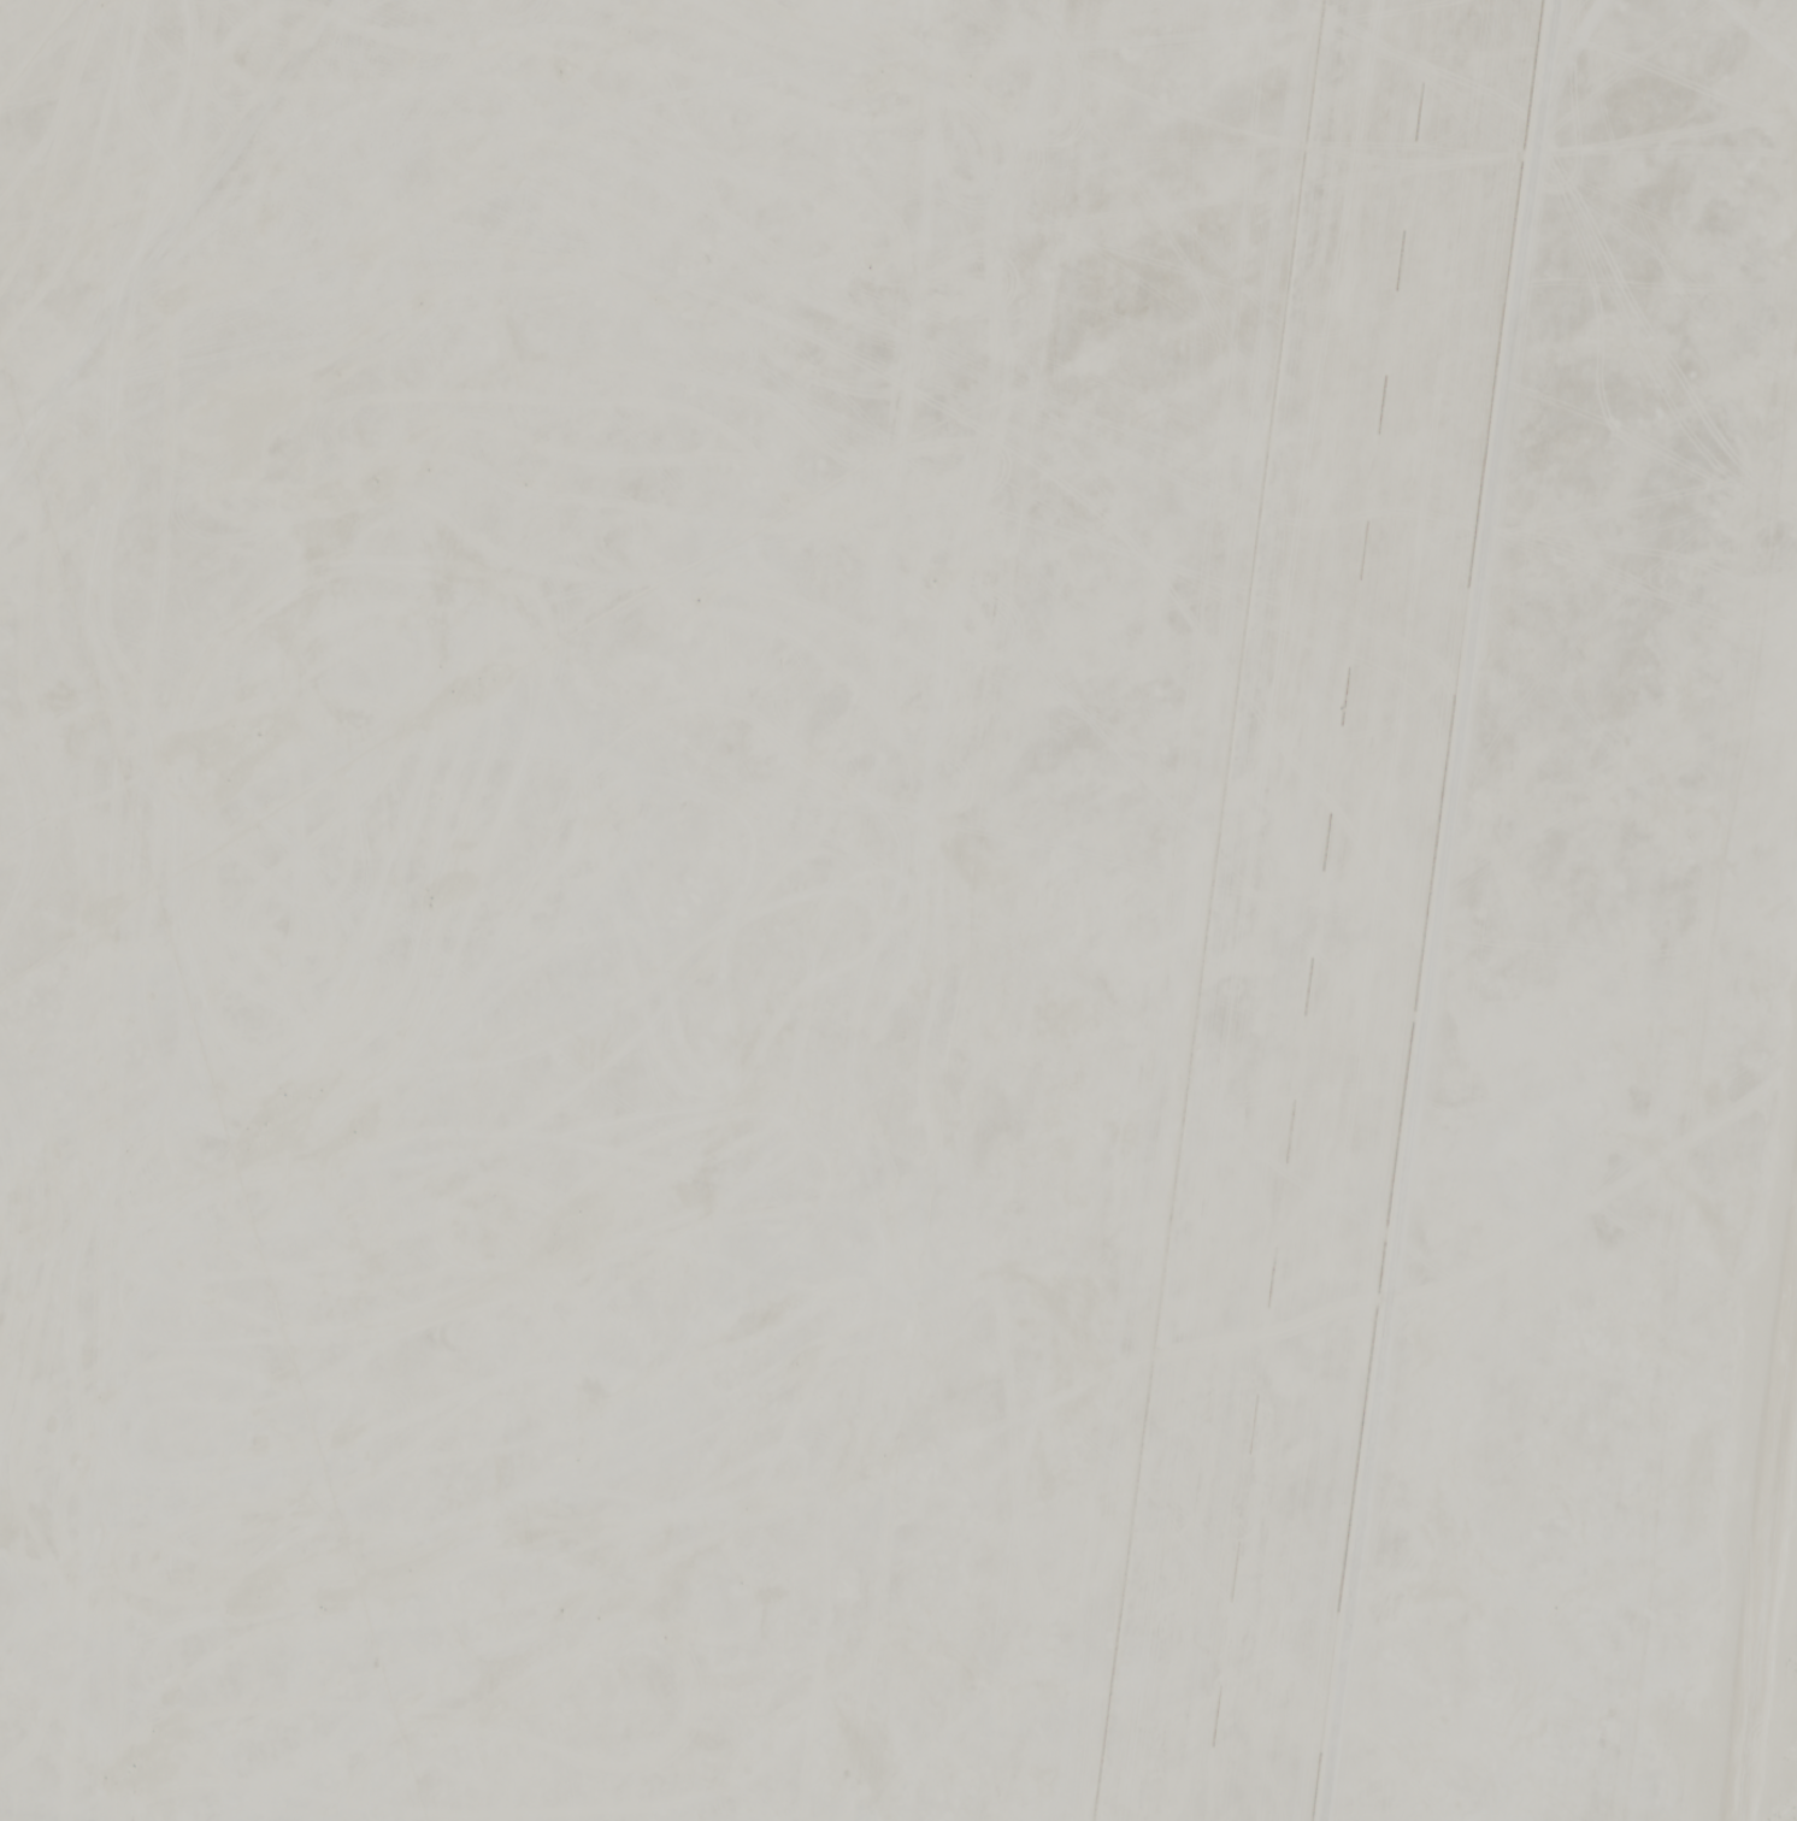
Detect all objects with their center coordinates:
airport runway: (1308, 910)
building: (314, 950)
road: (1758, 1474)

